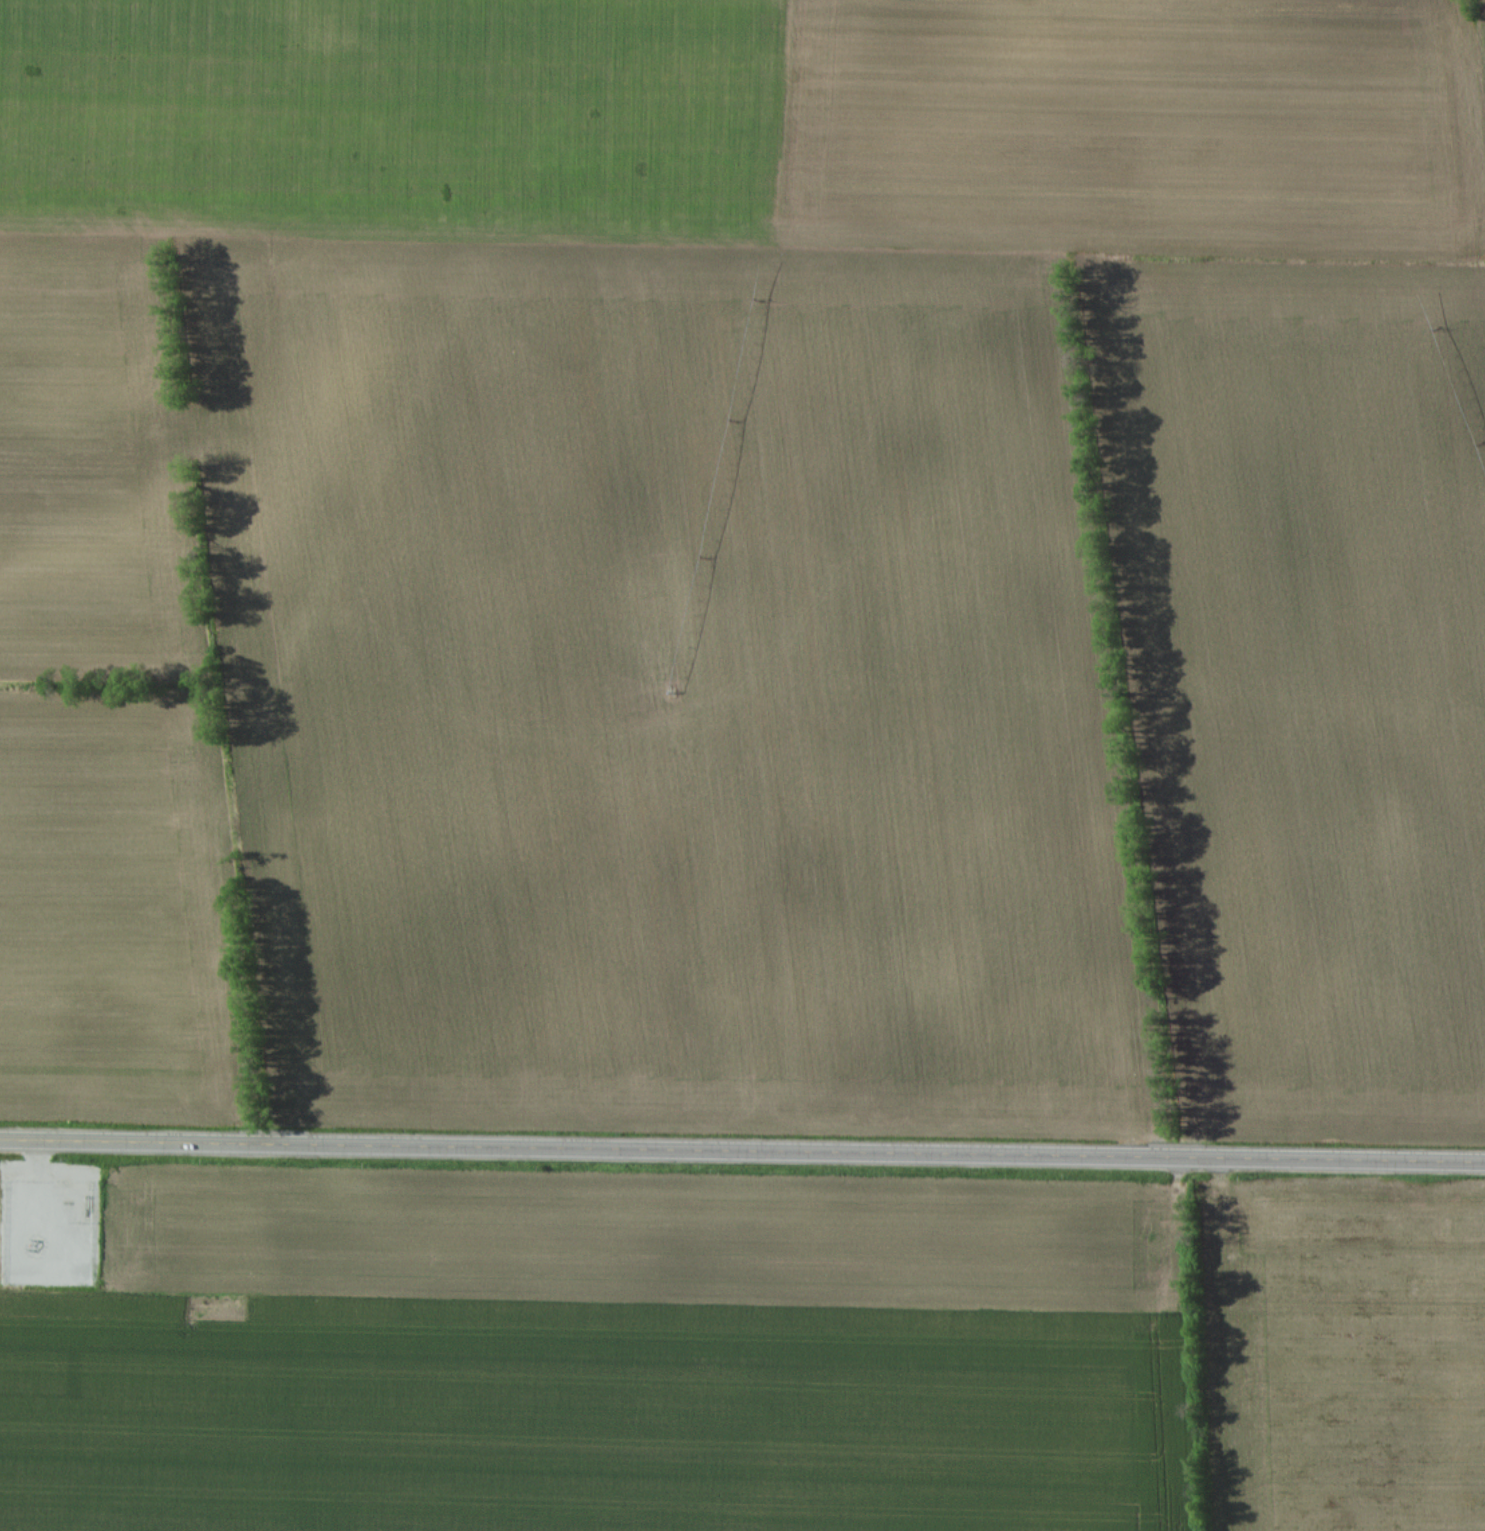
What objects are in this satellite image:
road: (742, 1150)

